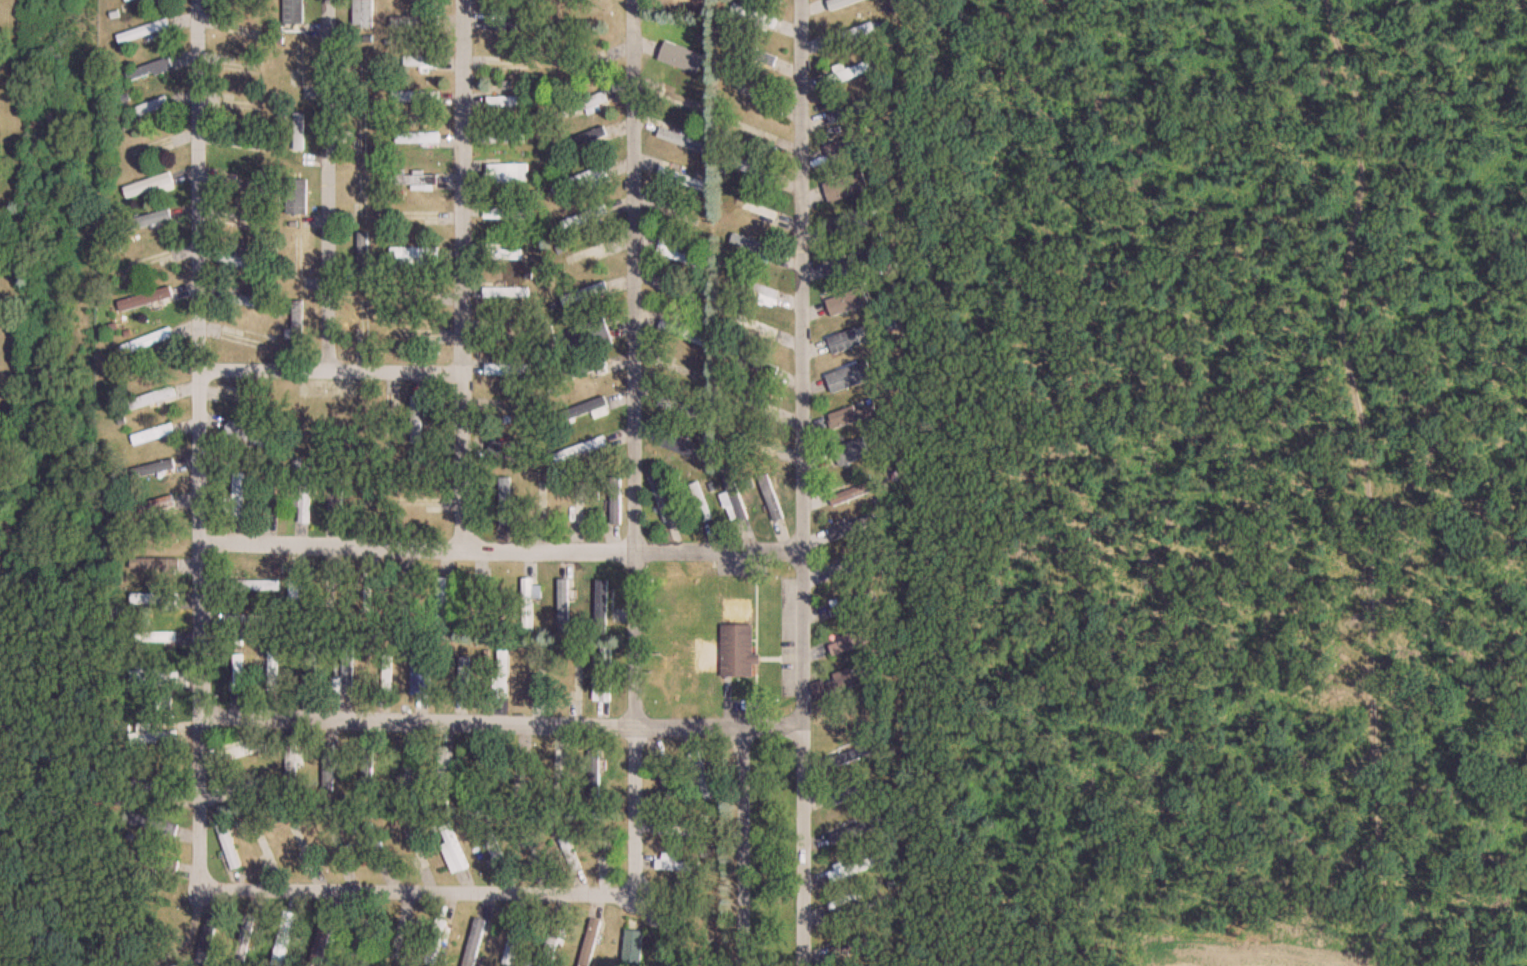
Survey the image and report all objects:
building: (127, 0)
building: (146, 0)
building: (257, 0)
building: (840, 3)
building: (755, 16)
building: (414, 21)
building: (510, 25)
building: (143, 31)
building: (240, 31)
building: (851, 35)
building: (679, 60)
building: (587, 61)
building: (421, 62)
building: (148, 69)
building: (848, 73)
building: (415, 97)
building: (682, 100)
building: (505, 101)
building: (586, 104)
building: (151, 106)
building: (839, 114)
building: (755, 131)
building: (298, 132)
building: (362, 132)
building: (593, 135)
building: (504, 138)
building: (698, 145)
building: (851, 145)
building: (754, 169)
building: (502, 173)
building: (677, 174)
building: (588, 179)
building: (416, 180)
building: (228, 182)
building: (148, 184)
building: (250, 186)
road: (327, 186)
building: (847, 187)
building: (362, 194)
building: (296, 195)
building: (754, 208)
building: (507, 214)
building: (584, 218)
building: (148, 220)
building: (241, 223)
building: (753, 246)
building: (678, 253)
building: (363, 256)
building: (416, 256)
building: (239, 260)
building: (148, 261)
building: (859, 263)
road: (462, 276)
building: (758, 288)
building: (584, 294)
building: (244, 300)
building: (847, 301)
building: (297, 324)
building: (756, 326)
building: (682, 332)
building: (852, 340)
building: (146, 341)
building: (241, 341)
building: (584, 371)
road: (330, 372)
building: (853, 379)
building: (150, 398)
building: (756, 405)
building: (681, 408)
building: (586, 410)
building: (416, 420)
building: (247, 434)
building: (757, 441)
road: (198, 443)
building: (685, 447)
road: (632, 448)
building: (580, 450)
building: (504, 451)
building: (851, 452)
building: (147, 470)
road: (801, 483)
building: (853, 493)
building: (336, 497)
building: (736, 499)
building: (771, 499)
building: (304, 500)
building: (615, 500)
building: (274, 501)
building: (663, 501)
building: (701, 502)
building: (157, 503)
building: (419, 503)
road: (500, 551)
building: (157, 565)
building: (251, 585)
building: (295, 589)
building: (367, 595)
building: (156, 600)
building: (441, 602)
building: (563, 604)
building: (527, 605)
building: (601, 606)
building: (840, 606)
building: (244, 620)
building: (852, 641)
building: (737, 651)
building: (272, 670)
building: (502, 674)
building: (235, 676)
building: (464, 677)
building: (603, 677)
building: (160, 678)
building: (579, 679)
building: (843, 682)
road: (501, 723)
building: (151, 735)
building: (242, 750)
building: (845, 752)
building: (445, 762)
building: (291, 763)
building: (558, 768)
building: (365, 769)
building: (407, 770)
building: (483, 770)
building: (522, 772)
building: (594, 774)
building: (702, 776)
building: (257, 781)
building: (854, 794)
building: (154, 825)
building: (675, 830)
building: (852, 832)
building: (227, 846)
building: (377, 846)
road: (741, 846)
building: (339, 847)
building: (607, 848)
building: (453, 850)
building: (570, 854)
building: (676, 864)
building: (852, 869)
road: (418, 893)
building: (842, 902)
building: (361, 937)
building: (245, 939)
building: (283, 939)
building: (321, 941)
building: (398, 942)
building: (474, 942)
building: (633, 947)

